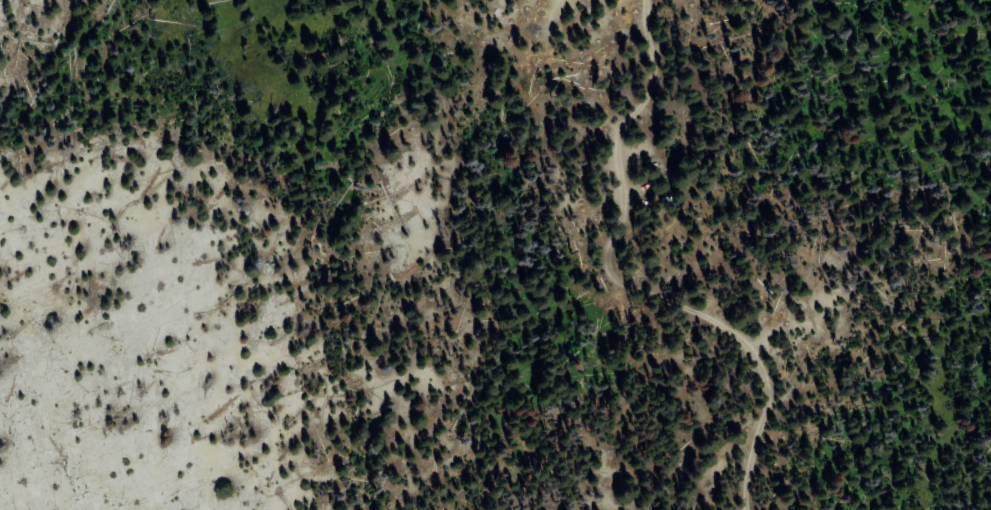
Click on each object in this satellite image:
road: (637, 286)

